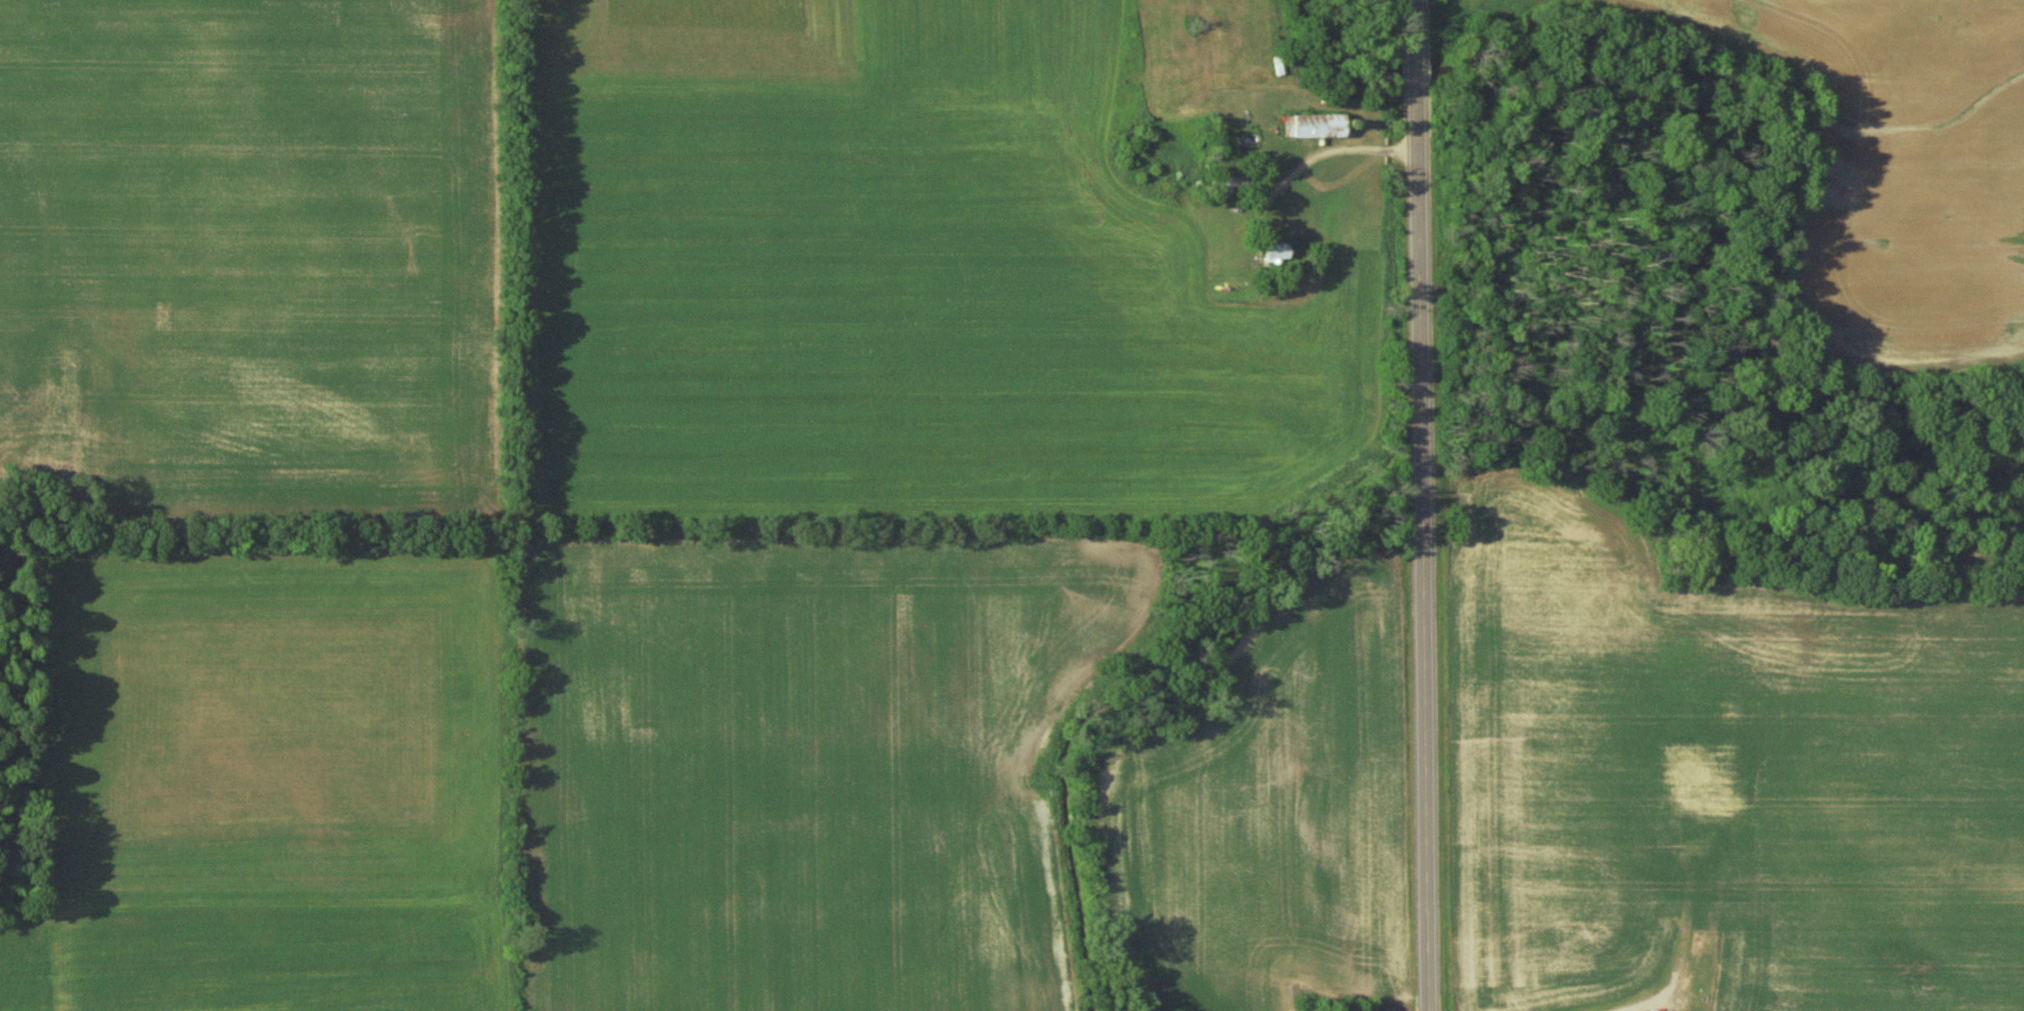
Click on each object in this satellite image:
building: (1318, 125)
road: (1328, 150)
building: (1222, 186)
building: (1275, 251)
road: (1423, 505)

